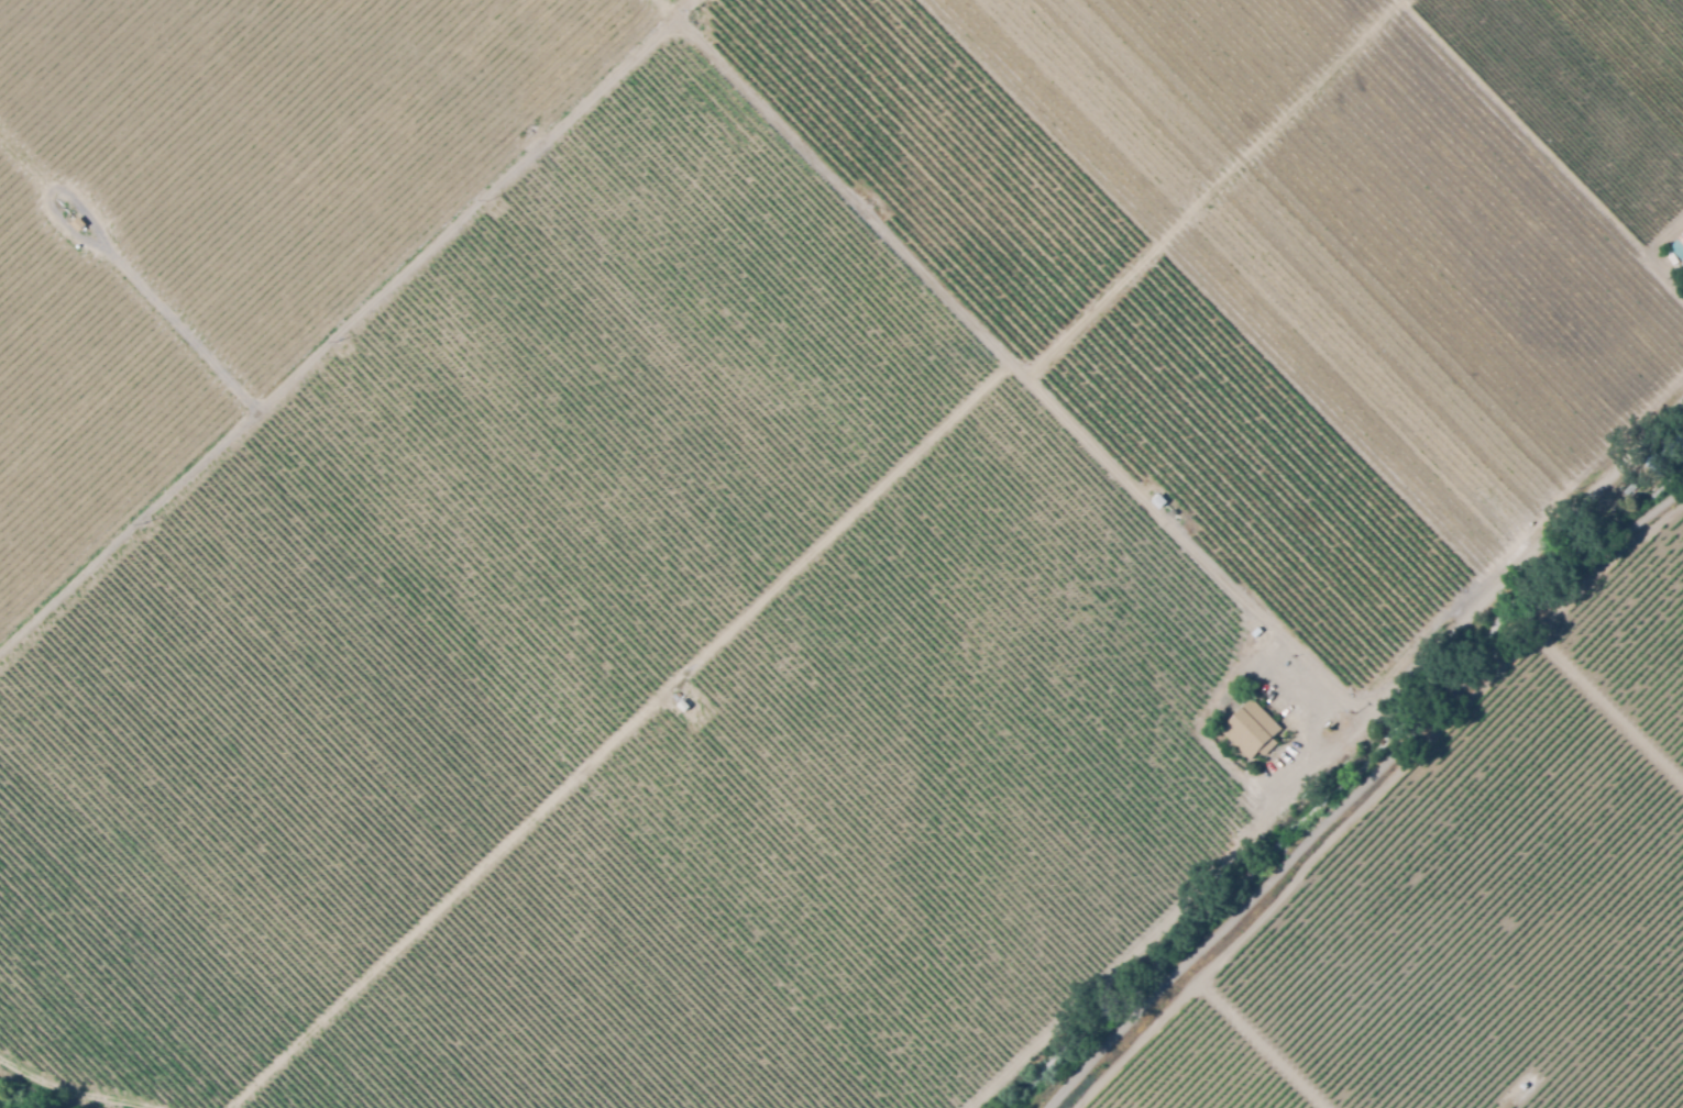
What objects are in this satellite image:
building: (82, 222)
building: (1674, 254)
building: (1629, 488)
building: (1158, 502)
building: (1487, 506)
road: (1421, 653)
building: (684, 703)
building: (1251, 732)

